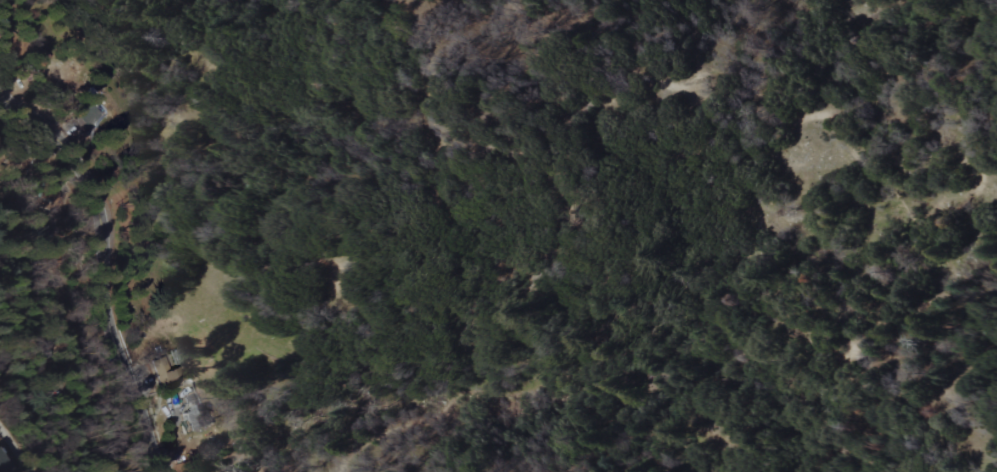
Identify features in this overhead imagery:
building: (87, 114)
road: (100, 266)
building: (173, 377)
building: (195, 418)
road: (23, 429)
building: (1, 464)

